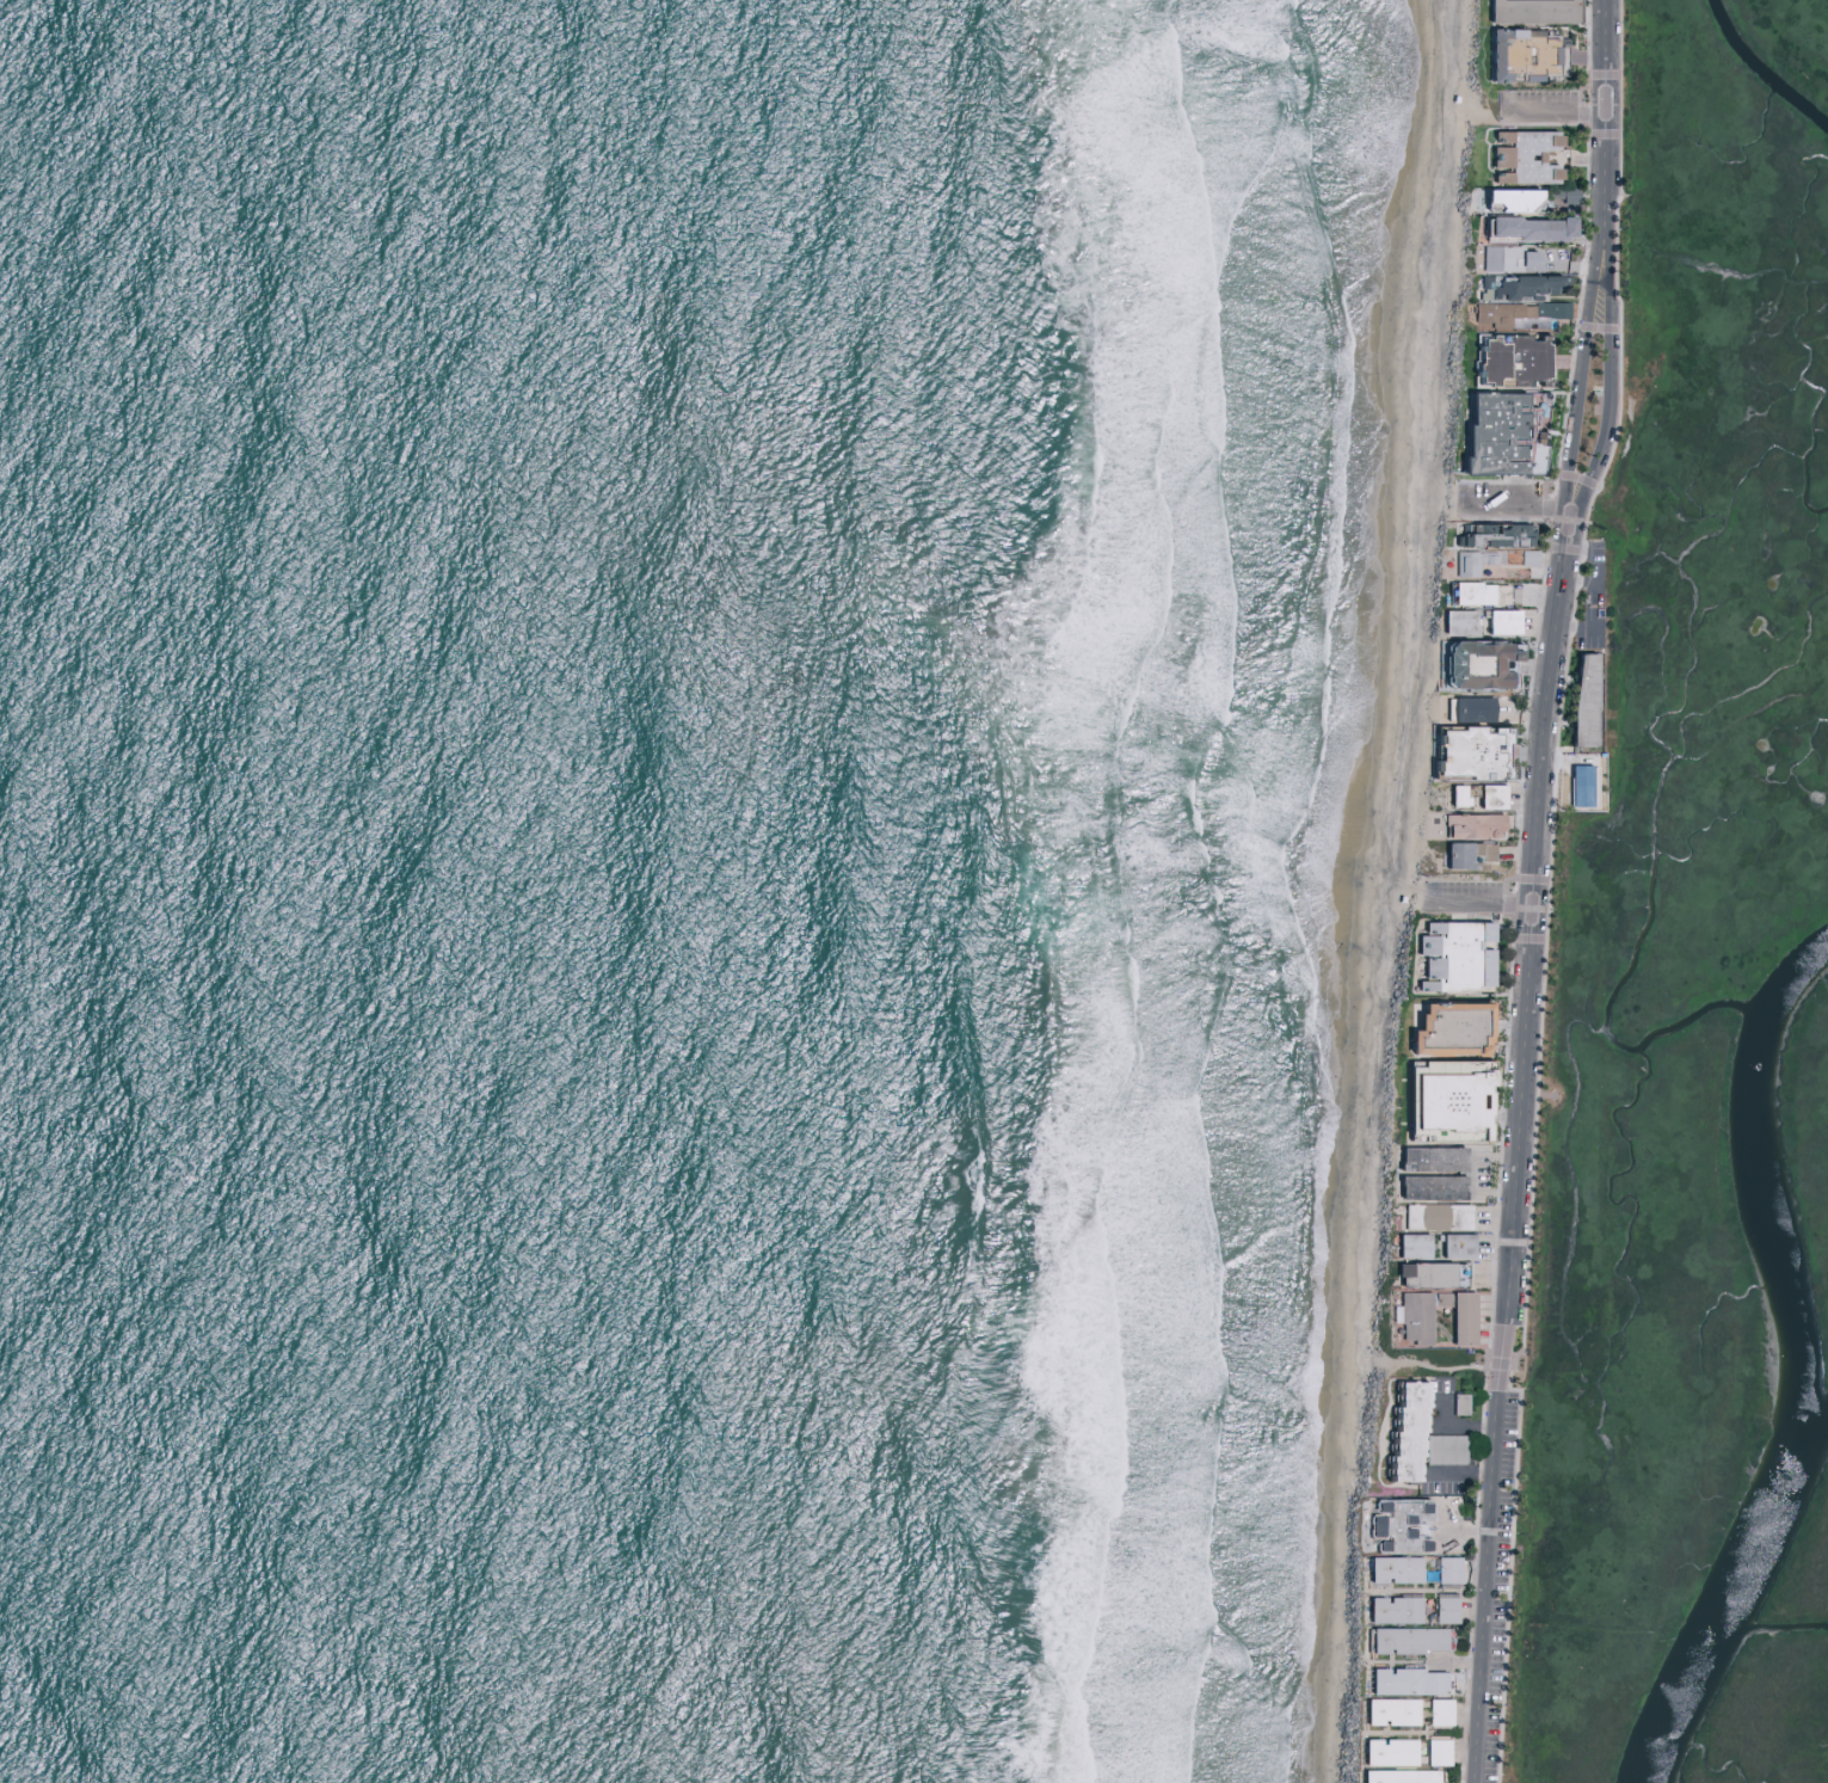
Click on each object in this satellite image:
building: (1514, 55)
river: (1769, 64)
parking lot: (1535, 106)
road: (1550, 113)
road: (1600, 125)
building: (1518, 158)
building: (1506, 201)
building: (1521, 228)
building: (1503, 259)
building: (1510, 287)
building: (1538, 309)
building: (1506, 344)
road: (1576, 376)
road: (1607, 382)
building: (1494, 436)
road: (1513, 503)
building: (1463, 565)
road: (1580, 583)
building: (1466, 594)
building: (1494, 595)
building: (1453, 621)
building: (1497, 622)
road: (1575, 631)
building: (1475, 665)
building: (1577, 701)
building: (1466, 709)
building: (1463, 752)
building: (1576, 781)
building: (1453, 797)
building: (1485, 798)
building: (1464, 854)
road: (1476, 894)
building: (1450, 954)
building: (1444, 1026)
road: (1512, 1143)
building: (1426, 1172)
road: (1470, 1176)
building: (1429, 1216)
building: (1410, 1244)
building: (1453, 1244)
building: (1420, 1273)
building: (1454, 1314)
building: (1411, 1316)
road: (1434, 1366)
river: (1804, 1371)
building: (1463, 1408)
road: (1450, 1430)
building: (1410, 1432)
river: (1816, 1446)
building: (1450, 1453)
road: (1458, 1476)
building: (1401, 1524)
road: (1446, 1535)
building: (1385, 1567)
building: (1412, 1568)
building: (1450, 1569)
road: (1426, 1591)
building: (1412, 1607)
building: (1447, 1607)
building: (1385, 1609)
building: (1436, 1638)
building: (1387, 1640)
building: (1414, 1641)
road: (1423, 1661)
road: (1365, 1670)
building: (1387, 1680)
building: (1415, 1680)
building: (1436, 1681)
building: (1383, 1710)
building: (1410, 1711)
building: (1441, 1711)
road: (1420, 1733)
building: (1380, 1751)
building: (1439, 1751)
building: (1408, 1752)
building: (1380, 1776)
building: (1407, 1776)
building: (1428, 1776)

